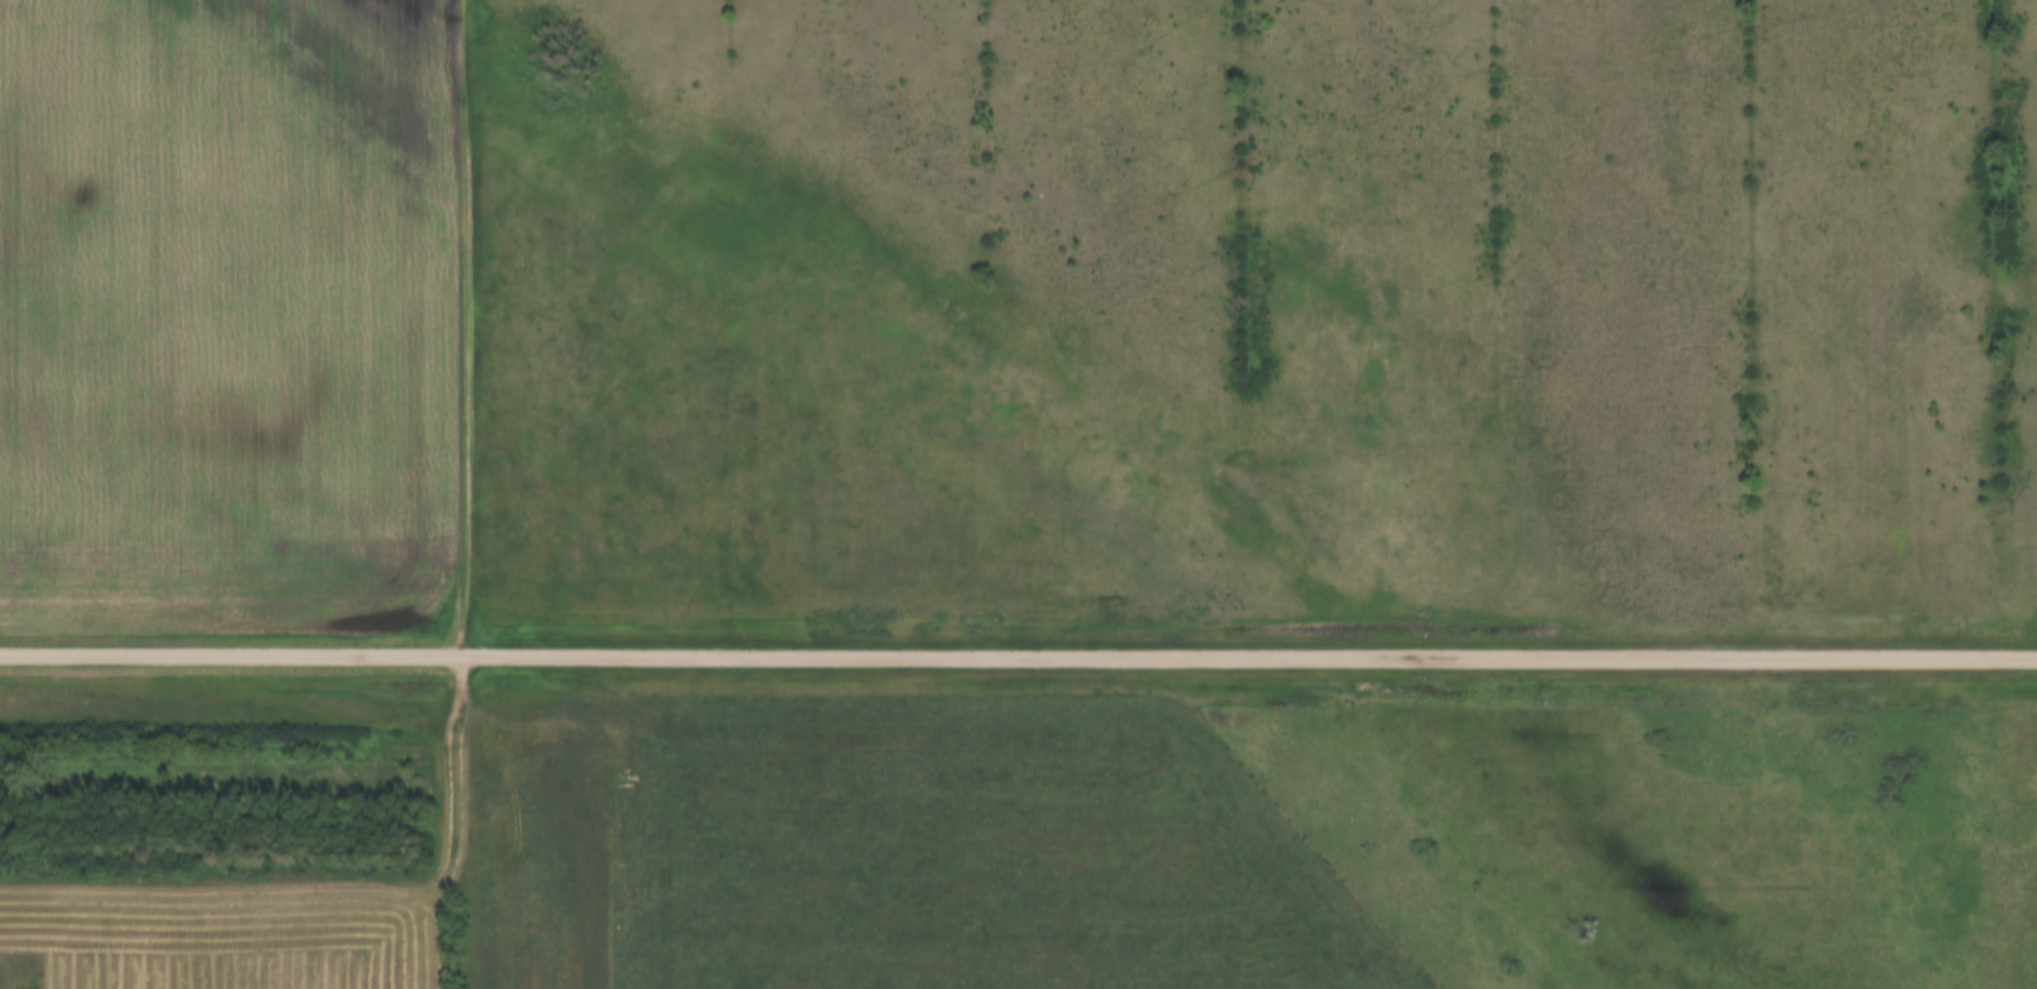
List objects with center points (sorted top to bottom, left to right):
road: (461, 325)
road: (1018, 652)
road: (459, 820)

